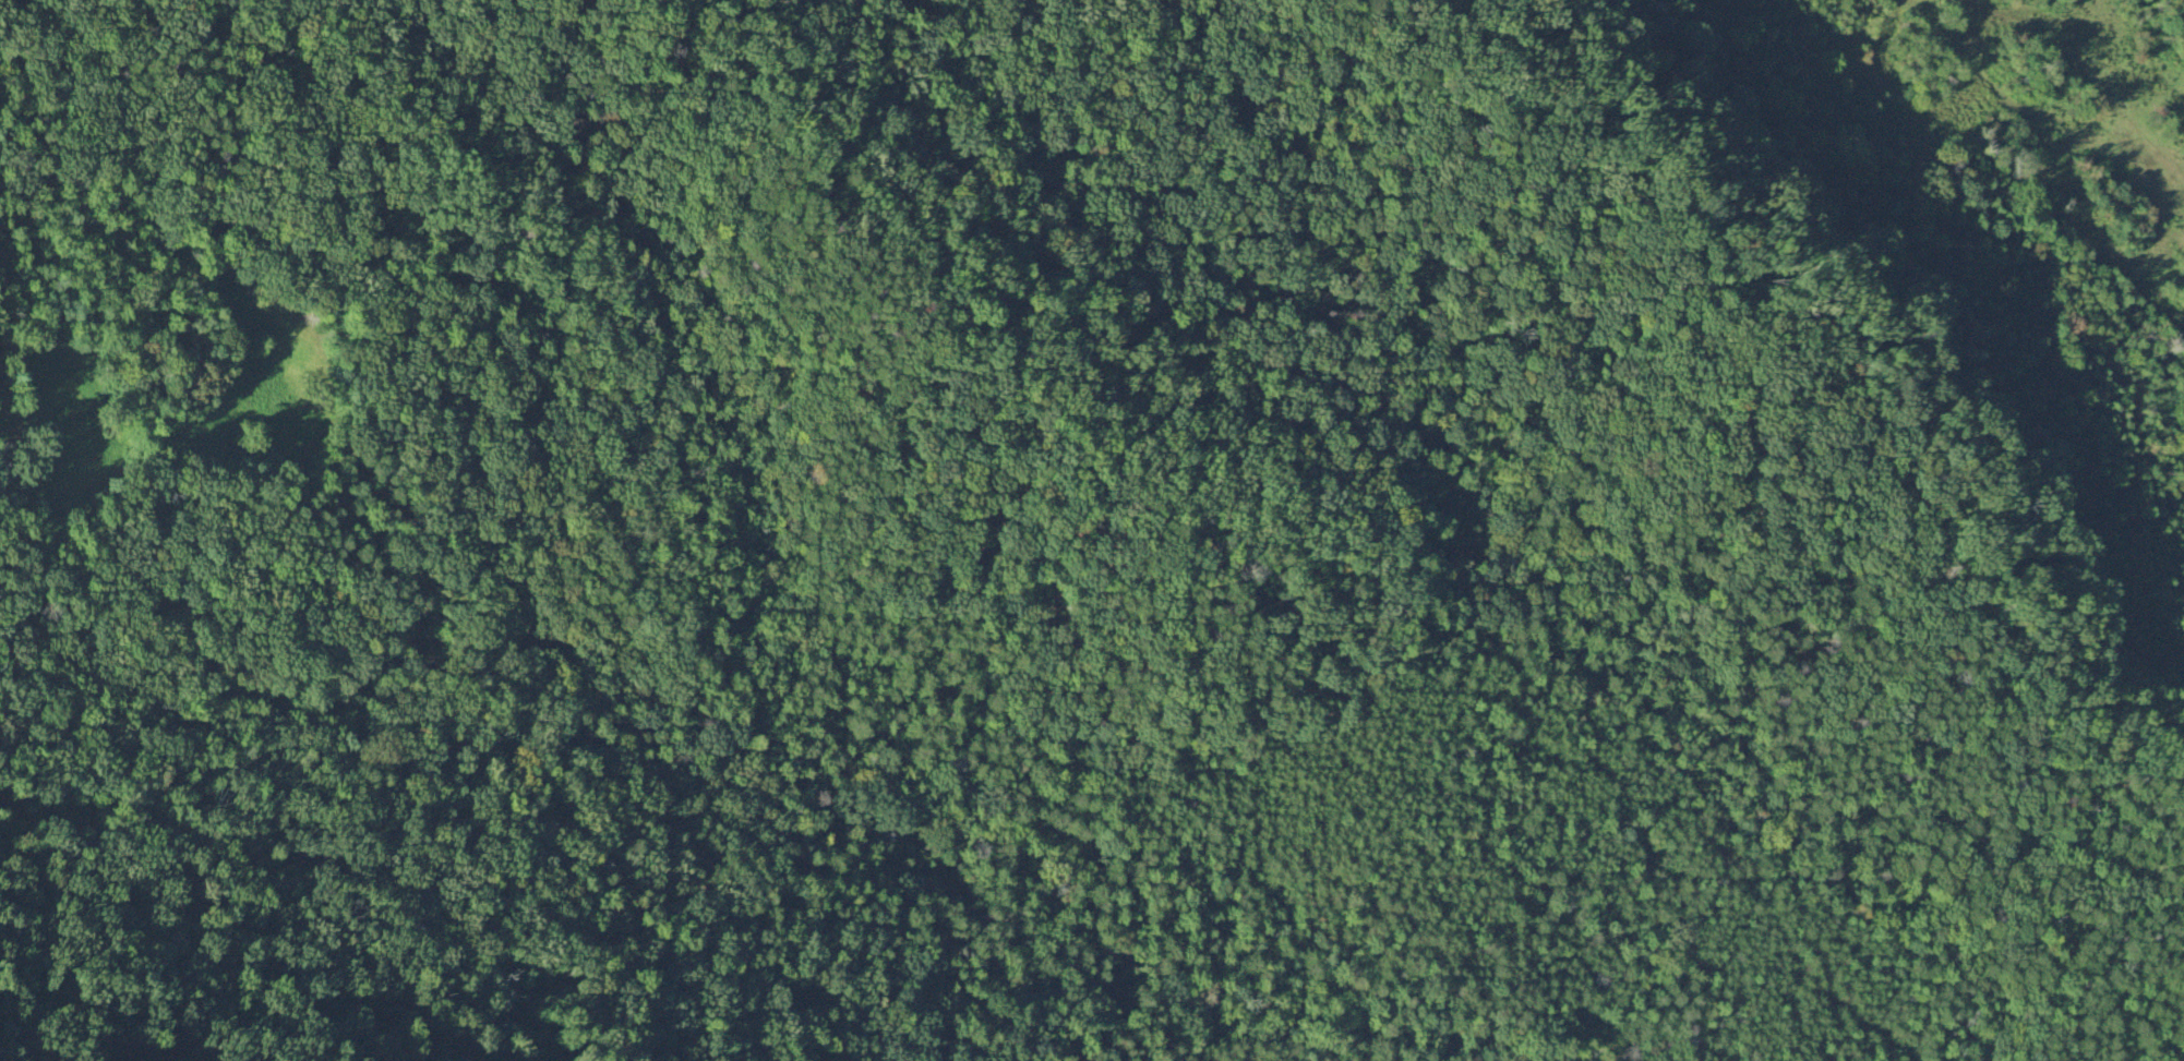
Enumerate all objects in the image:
road: (2026, 146)

